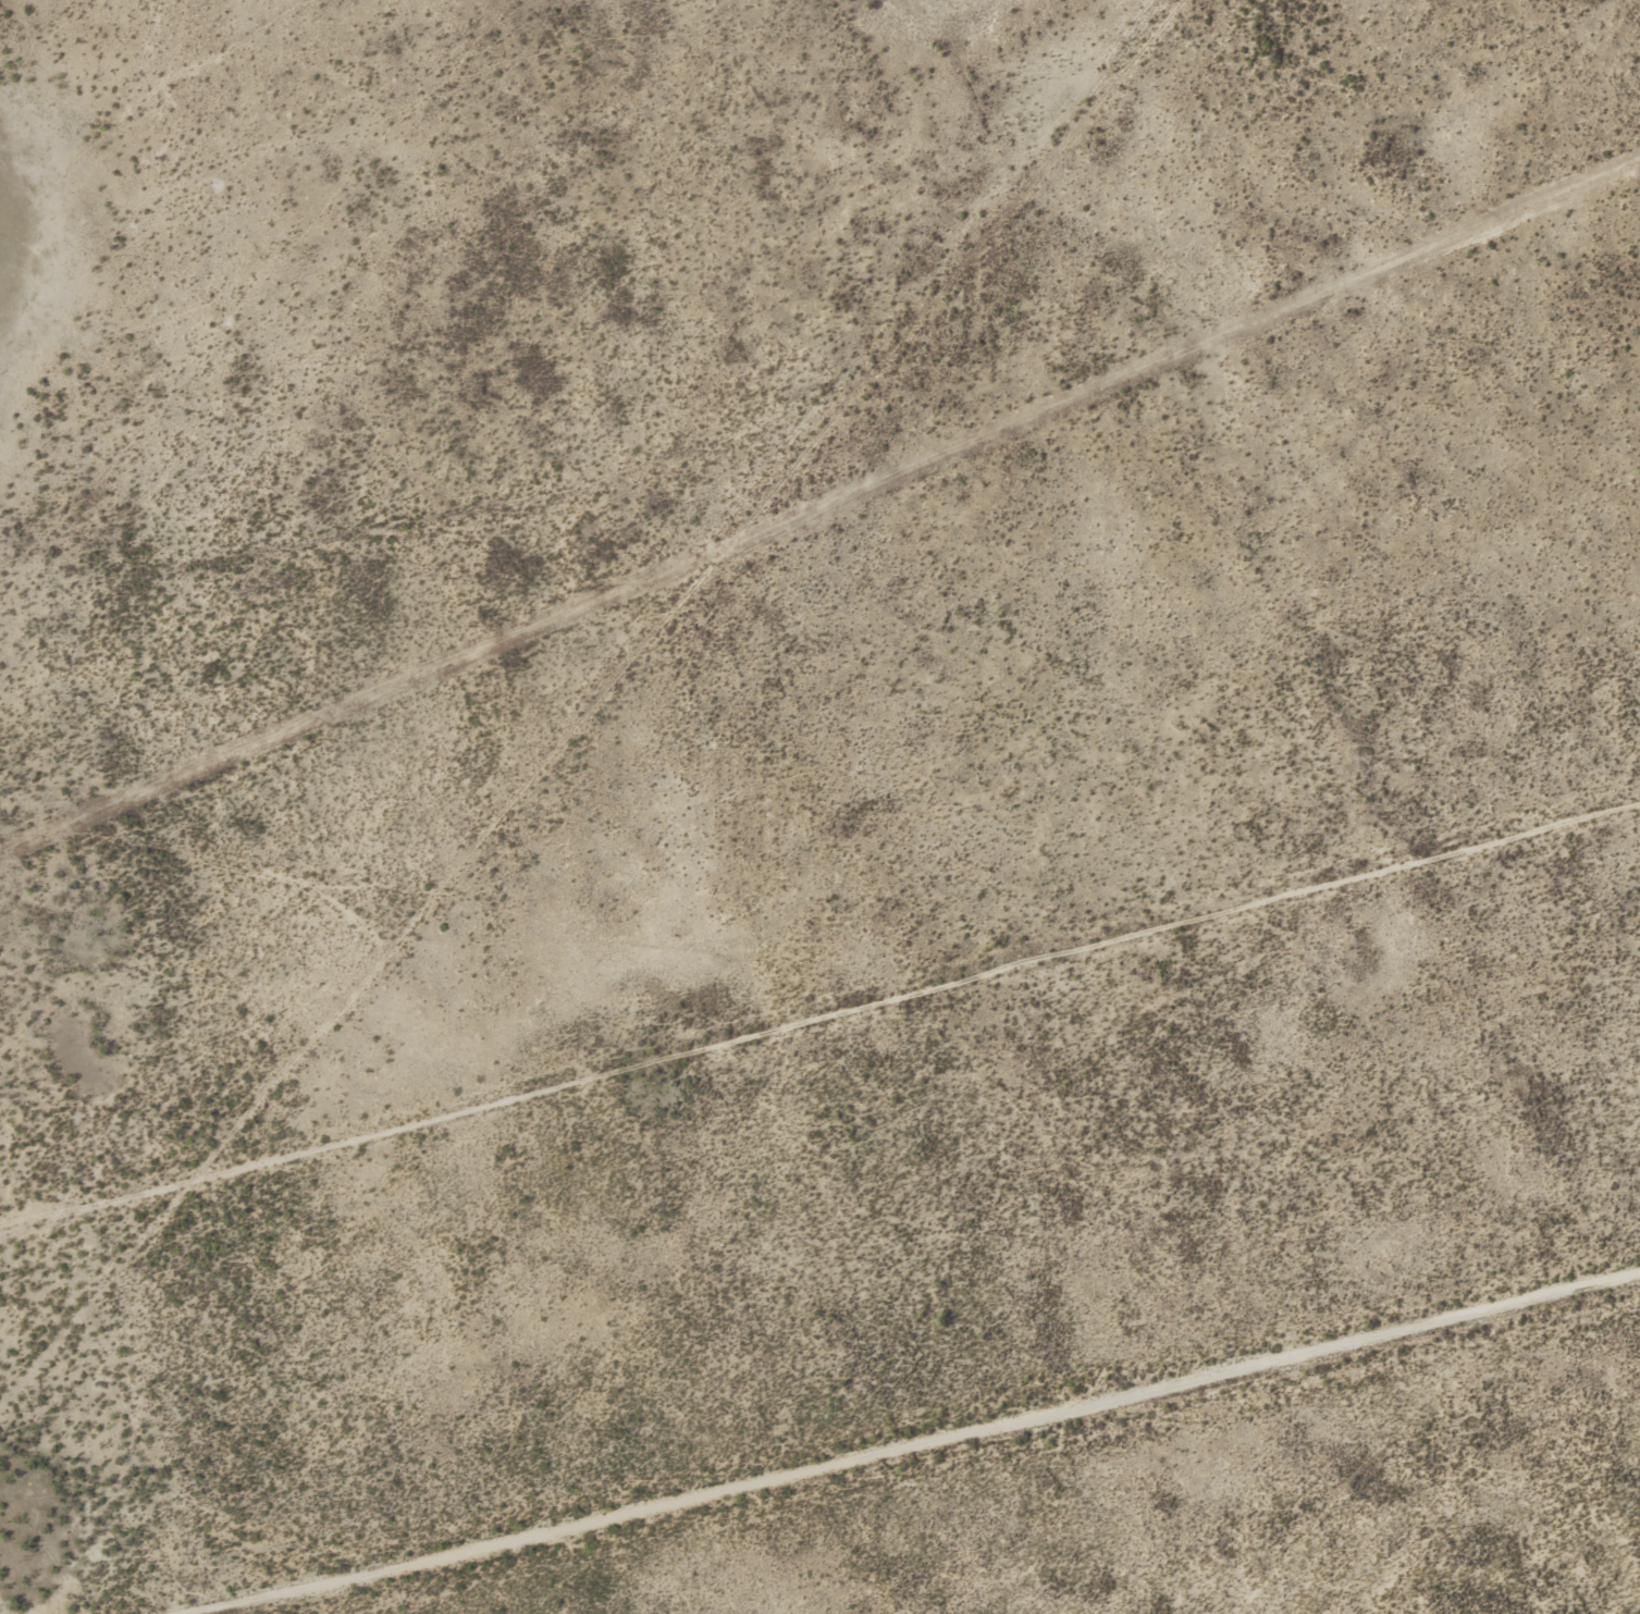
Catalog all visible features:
road: (922, 1443)

